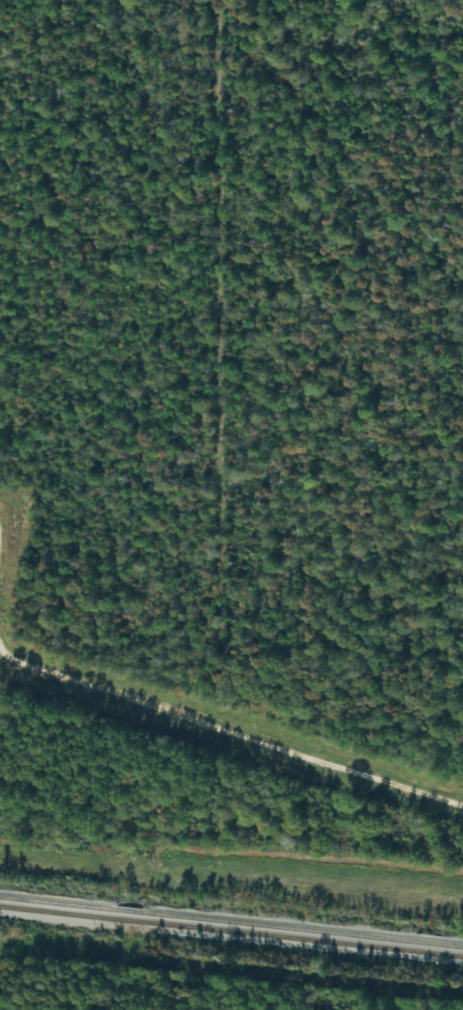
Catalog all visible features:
road: (231, 730)
railway: (231, 922)
railway: (231, 931)

